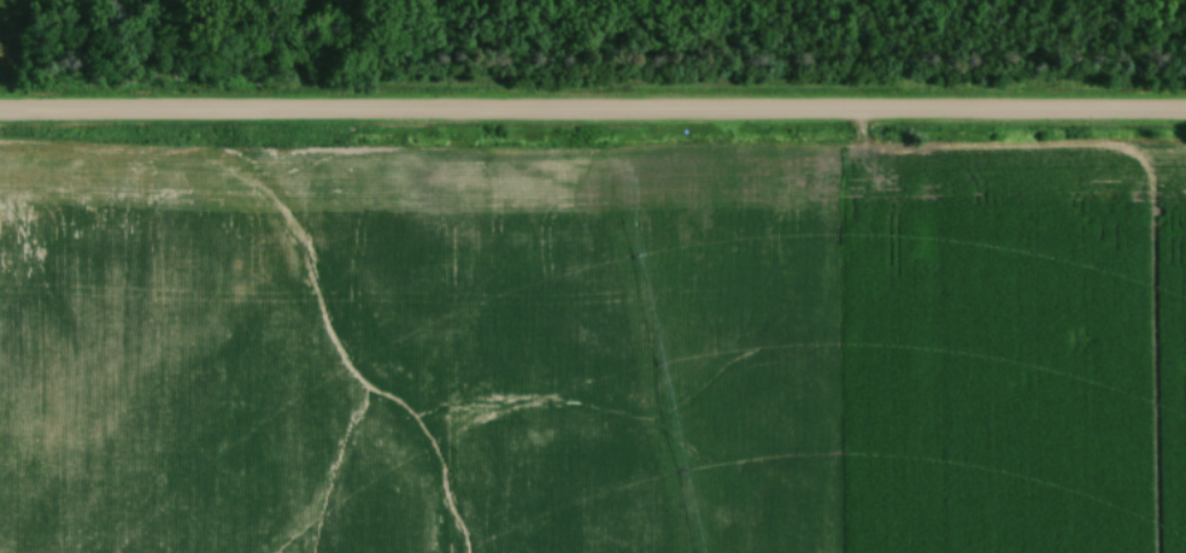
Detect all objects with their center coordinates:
road: (593, 114)

